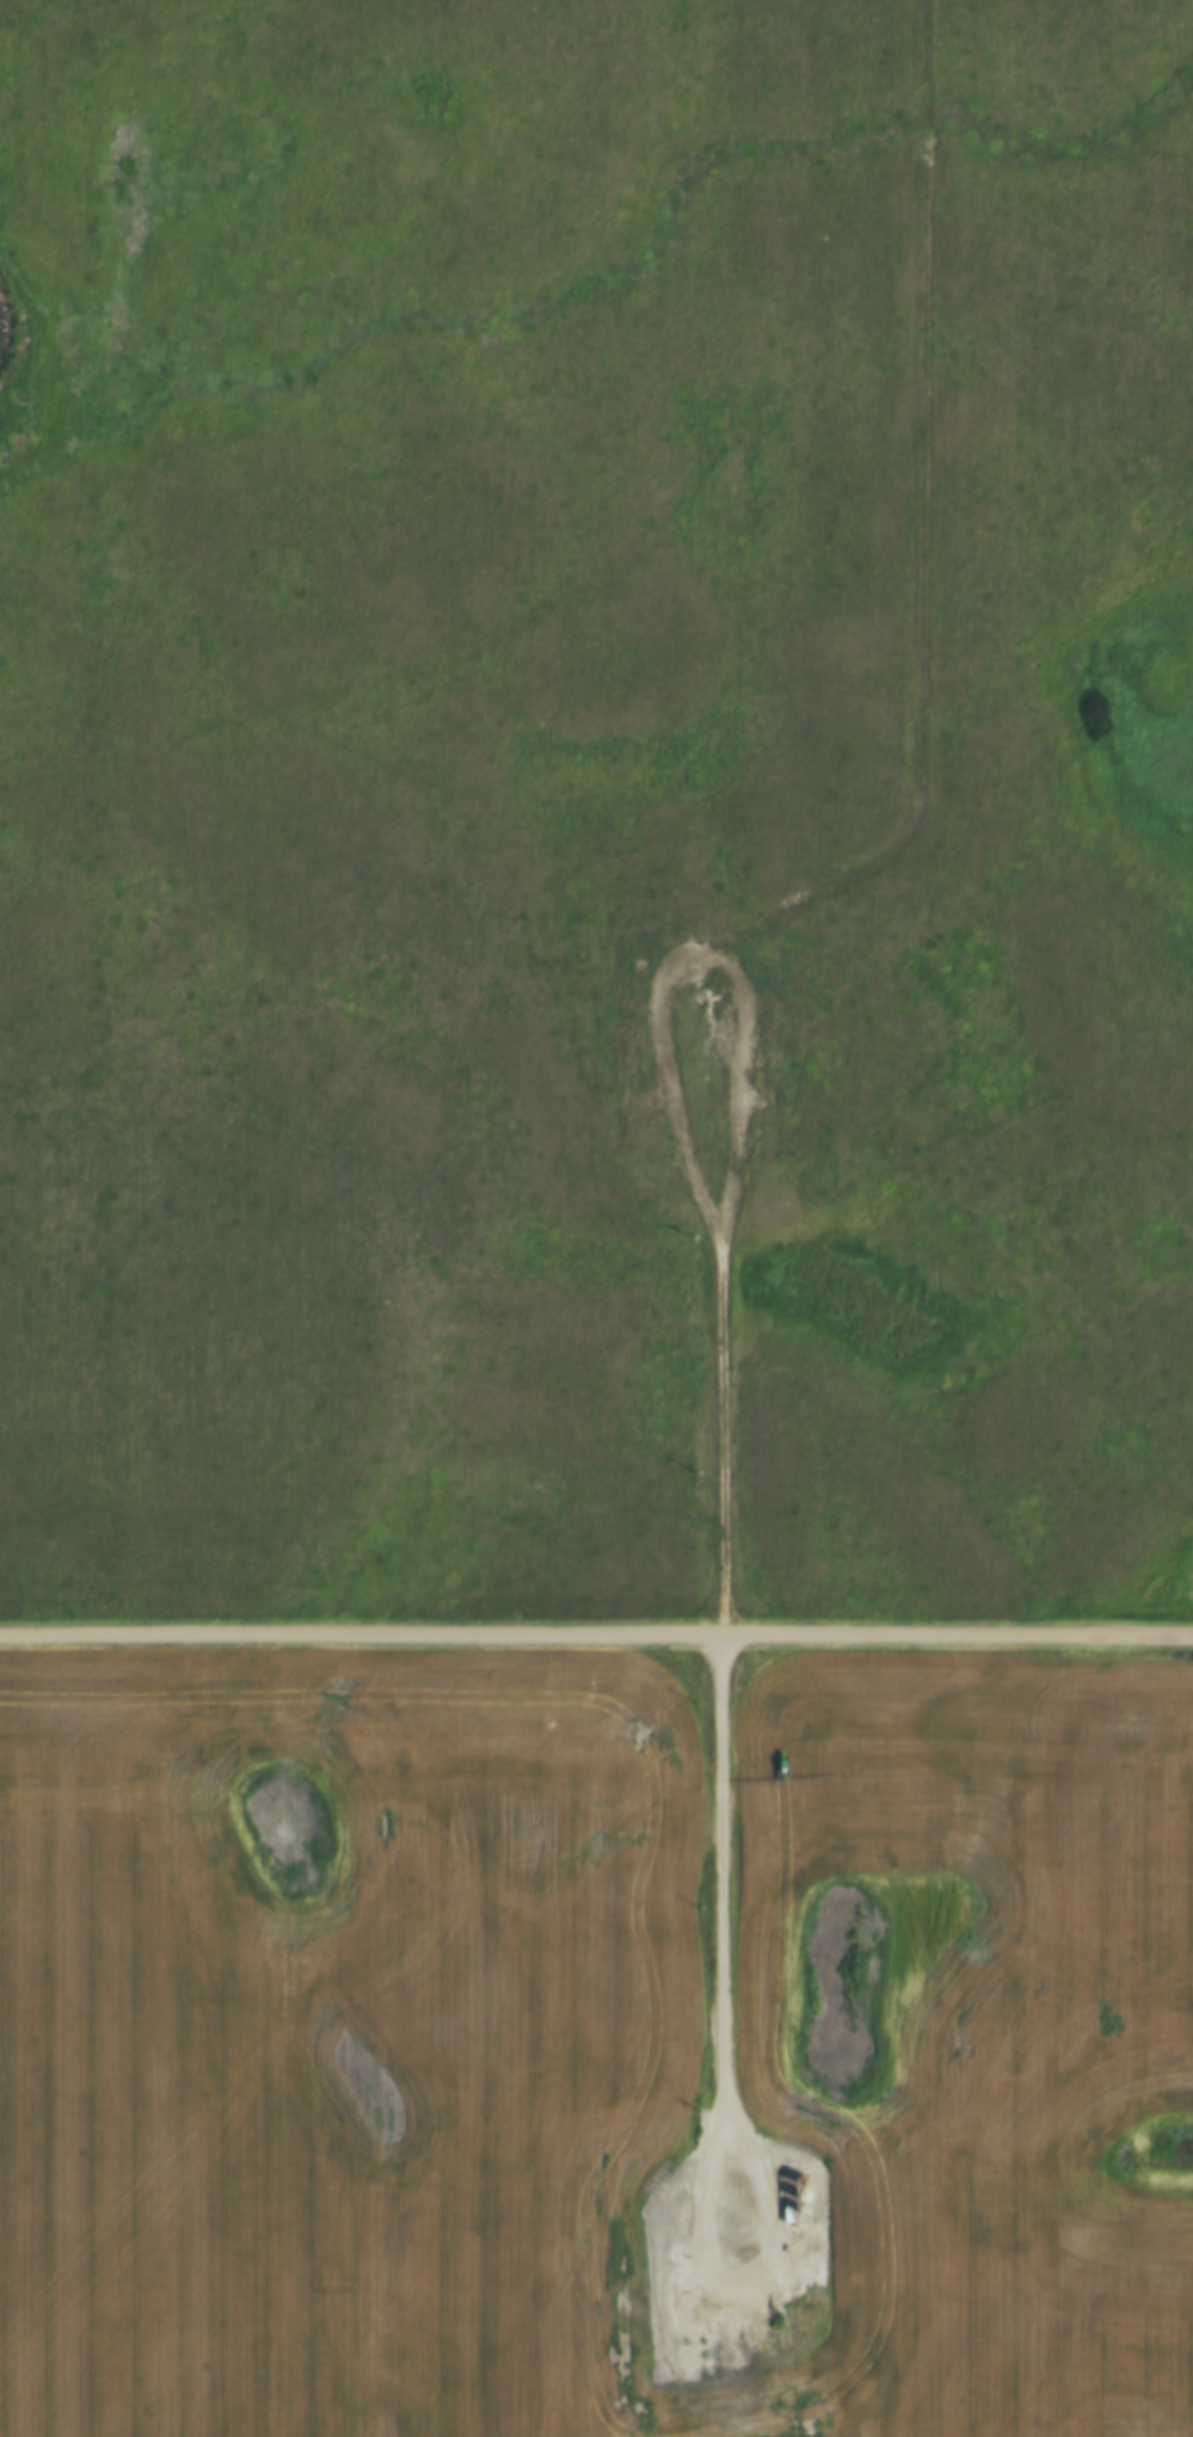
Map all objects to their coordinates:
road: (921, 547)
road: (678, 1143)
road: (596, 1639)
road: (719, 1959)
building: (789, 2215)
building: (800, 2300)

